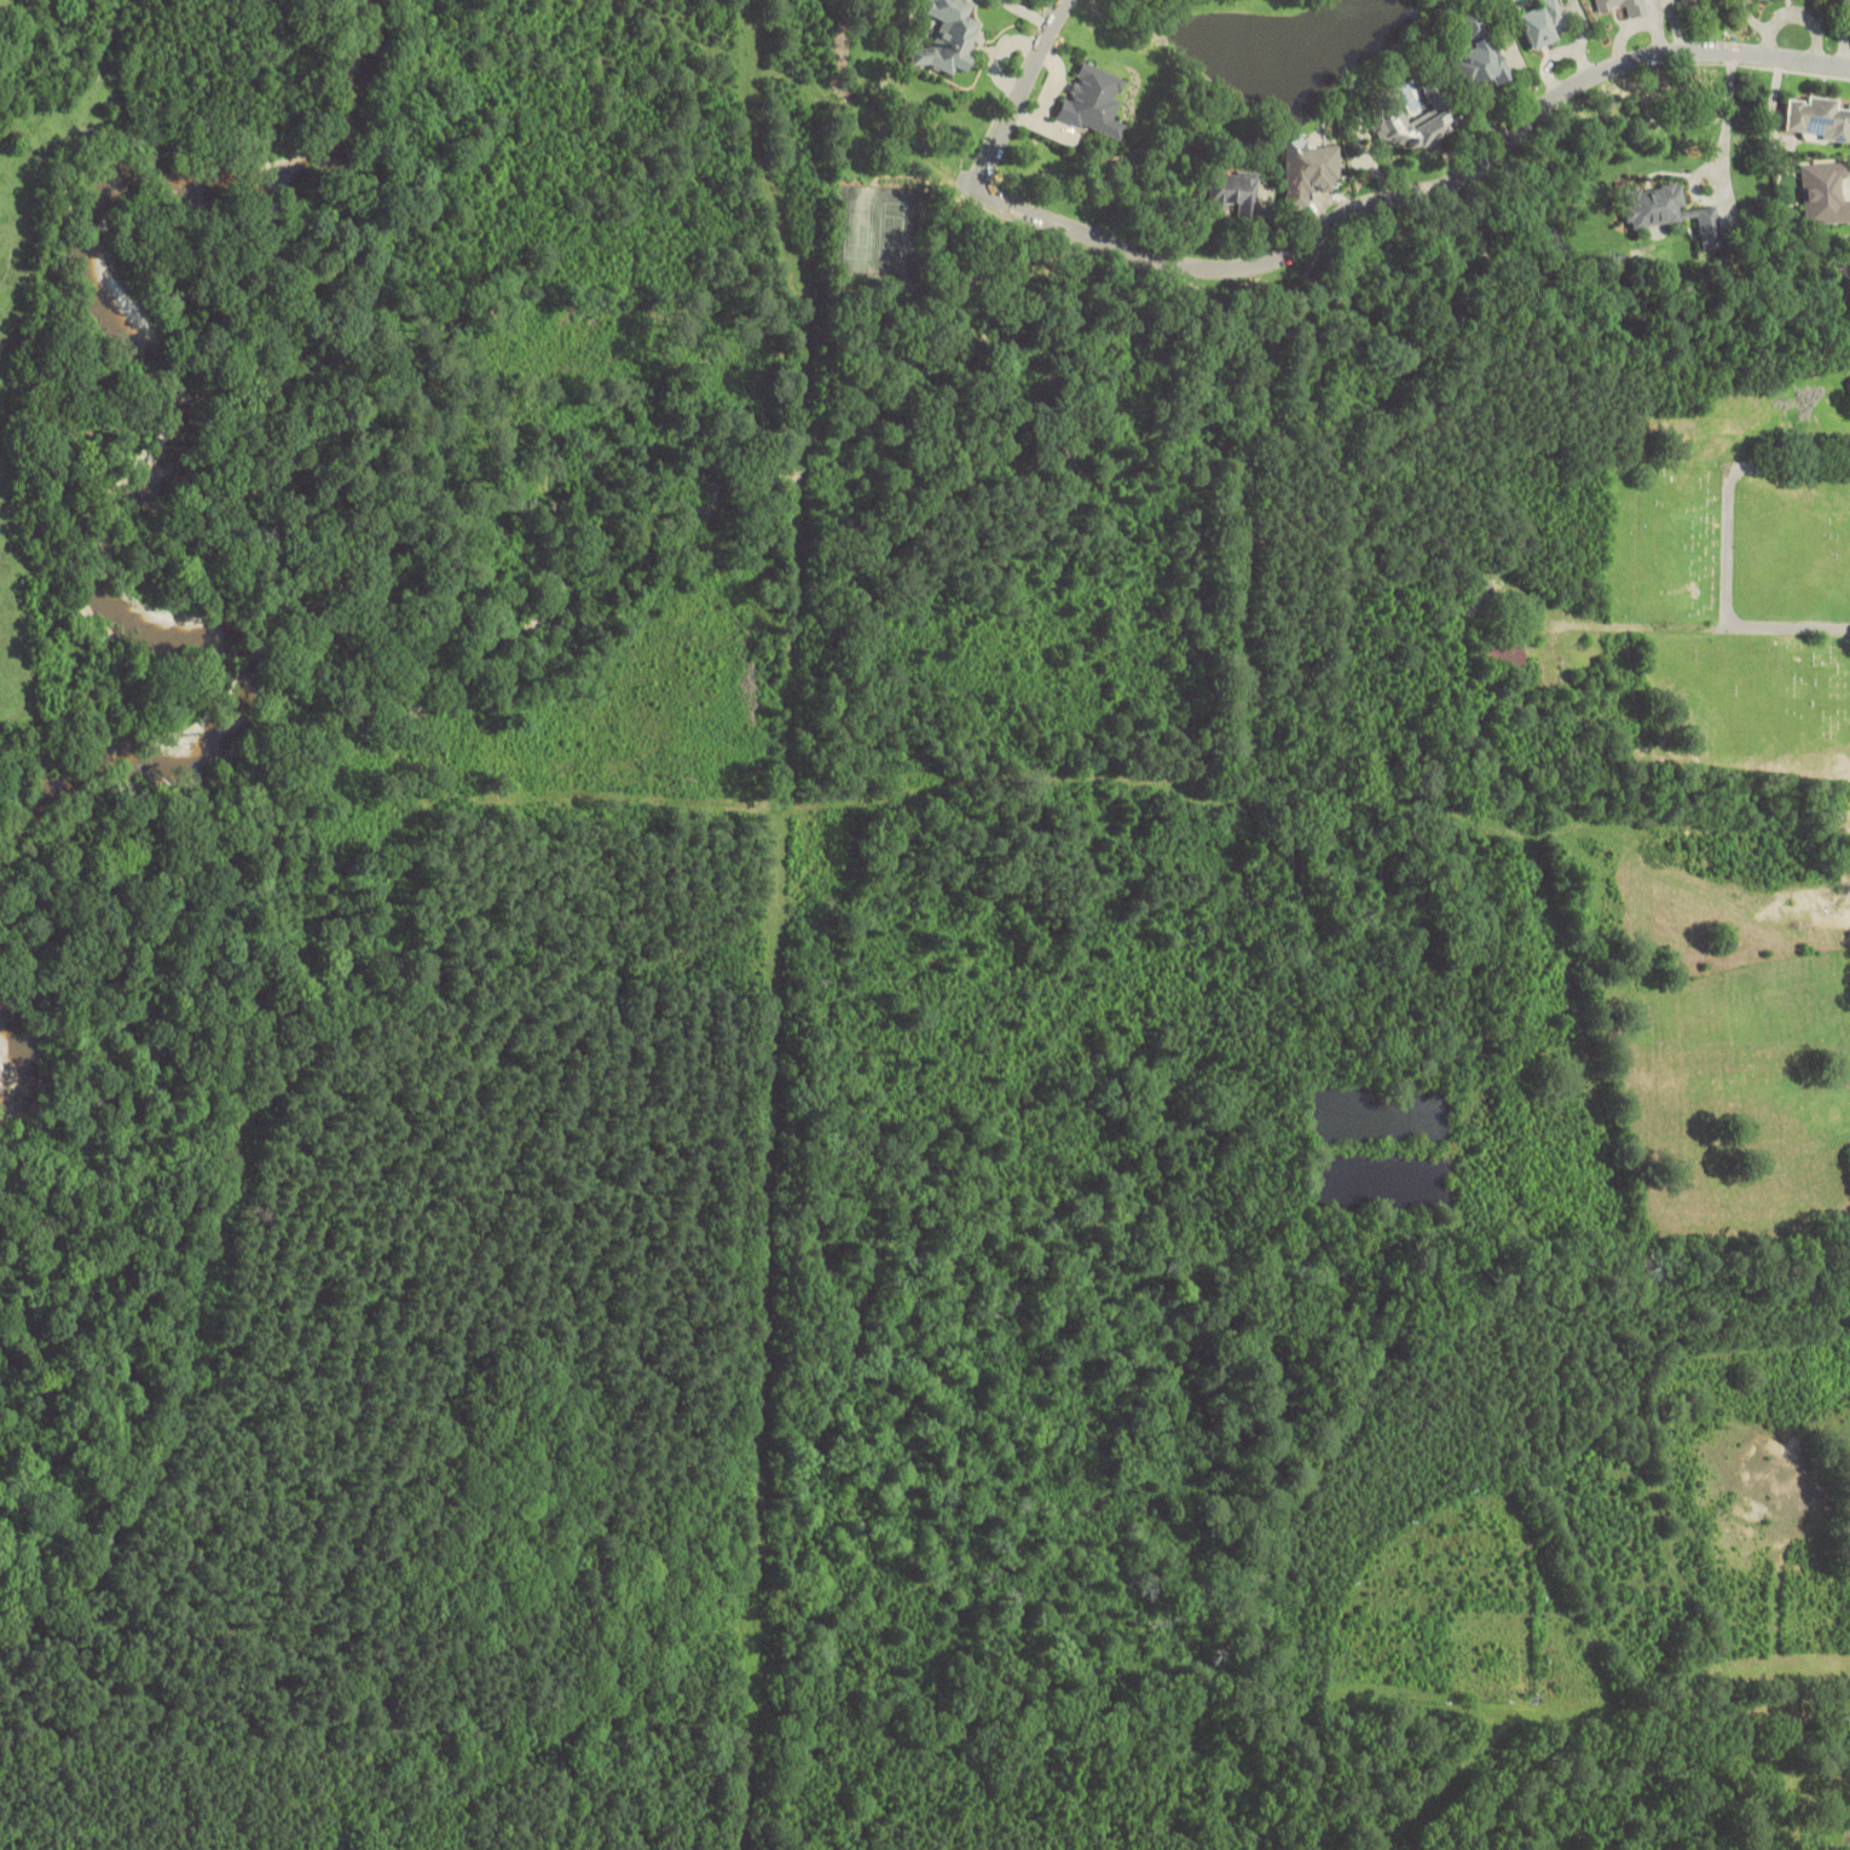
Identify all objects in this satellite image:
building: (1690, 2)
building: (1623, 6)
building: (1543, 22)
building: (1474, 24)
building: (948, 36)
building: (1481, 63)
road: (1018, 91)
building: (1093, 100)
building: (1819, 120)
building: (1413, 125)
building: (1310, 170)
building: (1235, 192)
building: (1825, 193)
road: (1405, 197)
building: (1670, 212)
building: (1849, 244)
river: (190, 451)
building: (1503, 652)
river: (7, 1074)

